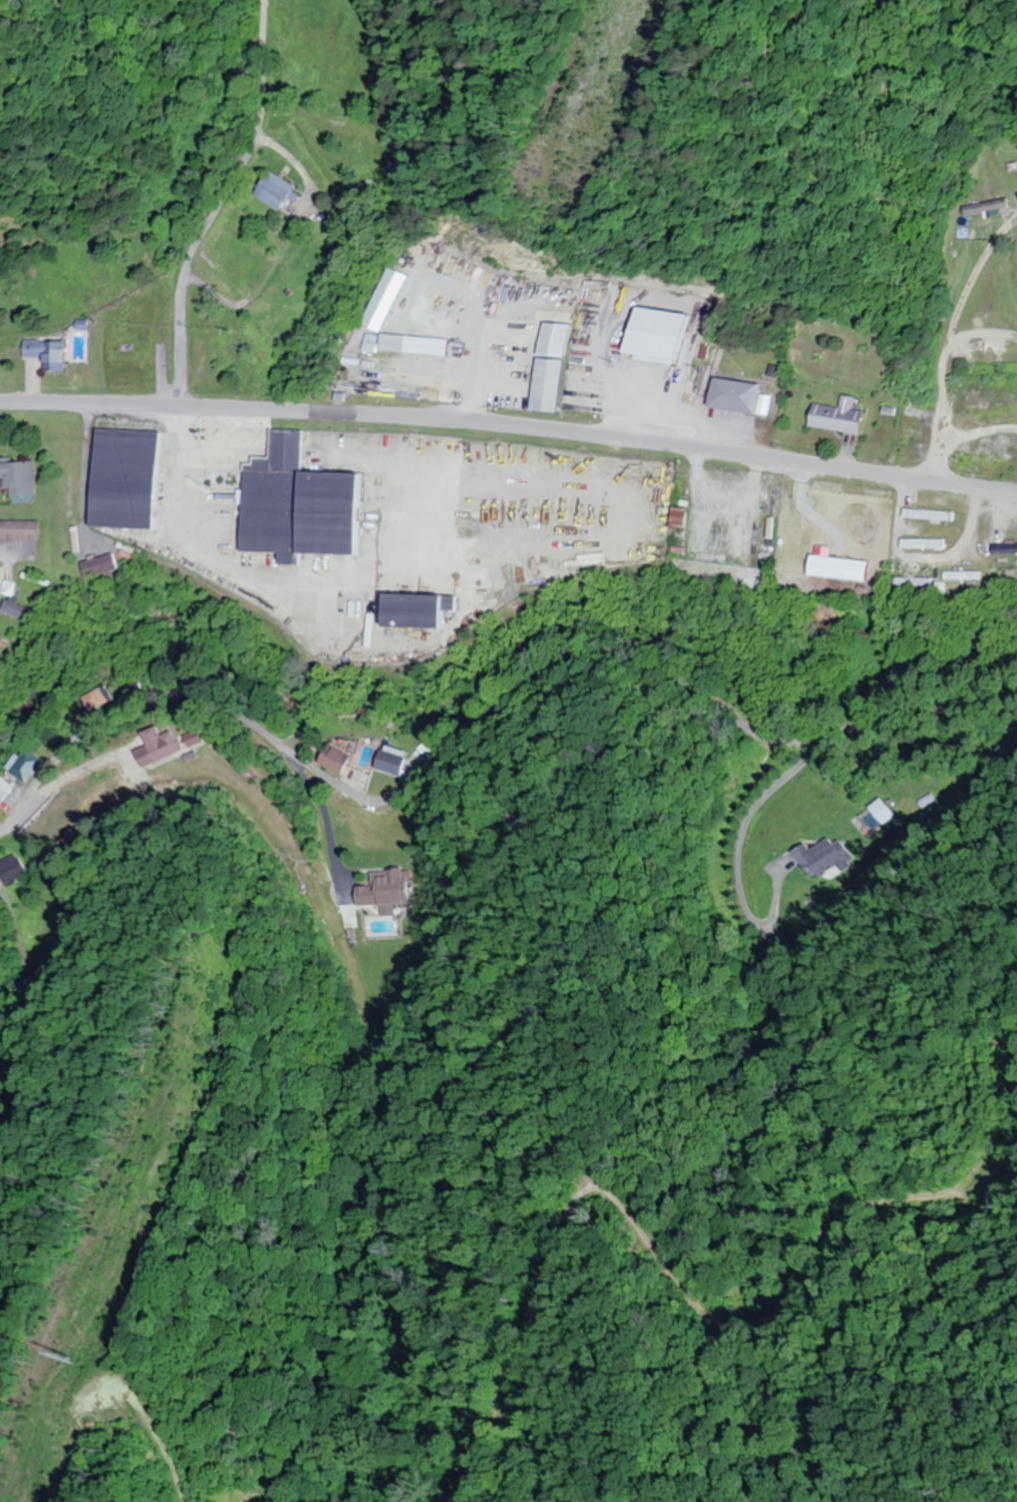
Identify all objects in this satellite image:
building: (357, 160)
building: (271, 190)
road: (227, 206)
building: (982, 207)
building: (381, 304)
building: (372, 343)
building: (414, 345)
building: (45, 353)
building: (133, 356)
building: (547, 367)
building: (737, 397)
building: (836, 417)
road: (510, 429)
building: (19, 477)
building: (128, 480)
building: (302, 506)
building: (931, 515)
building: (20, 530)
building: (926, 543)
building: (101, 566)
building: (841, 568)
building: (917, 582)
building: (20, 610)
building: (420, 611)
road: (674, 674)
road: (169, 696)
building: (98, 700)
building: (162, 748)
building: (338, 758)
building: (394, 761)
building: (30, 765)
building: (7, 791)
road: (339, 833)
building: (827, 858)
building: (14, 870)
building: (388, 892)
power tower: (62, 1351)

